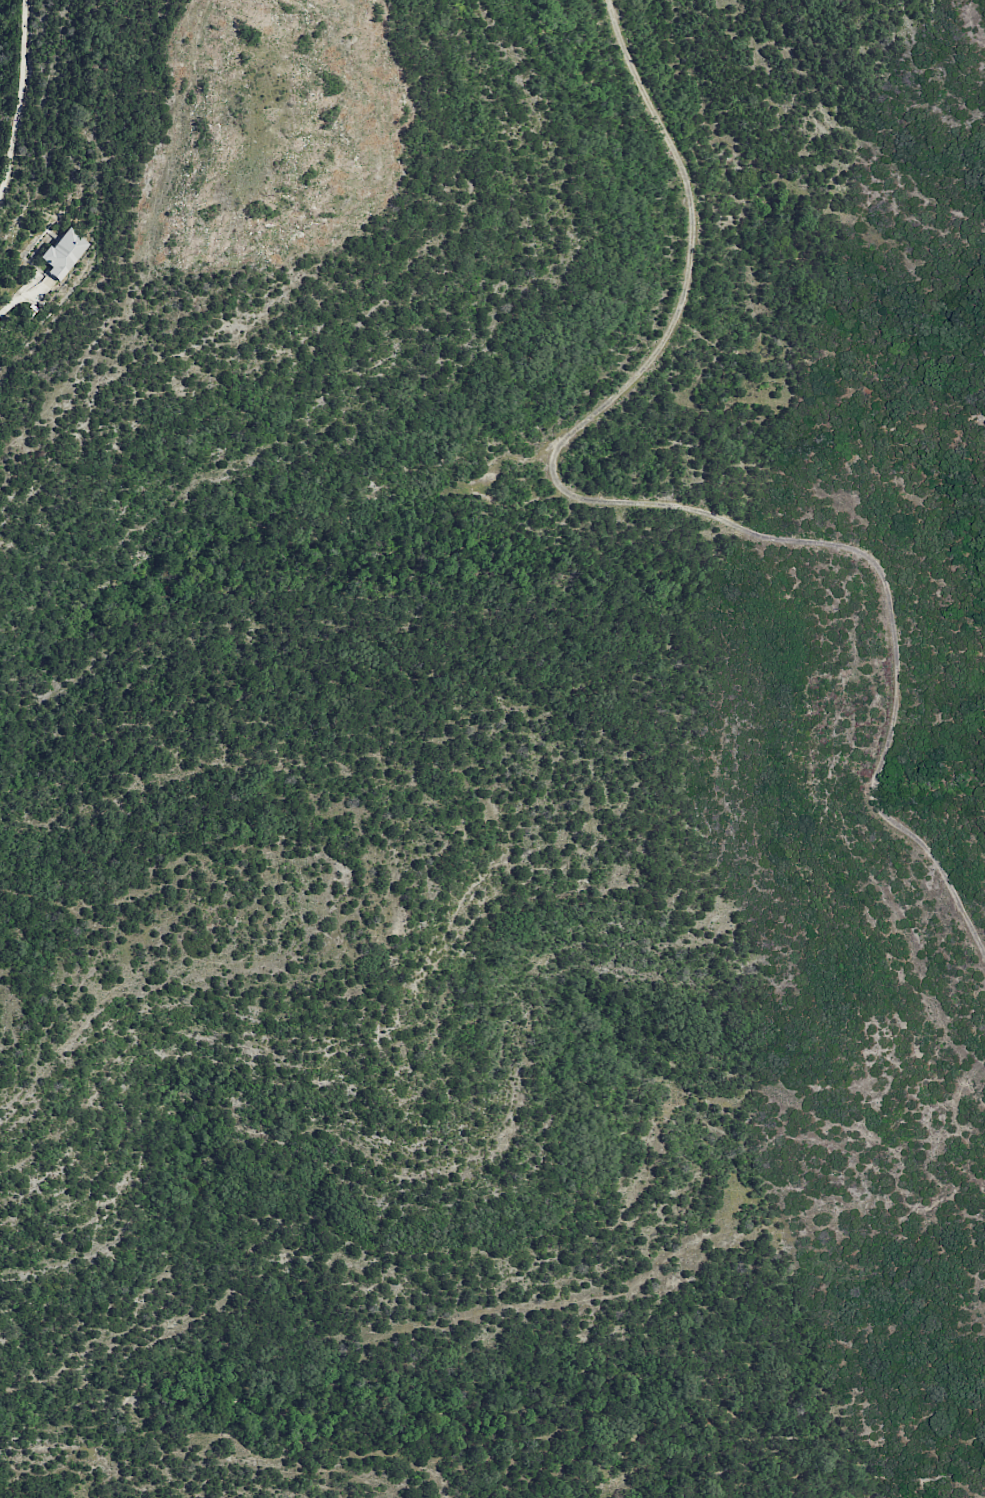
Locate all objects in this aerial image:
road: (19, 97)
building: (63, 253)
road: (17, 299)
road: (662, 505)

